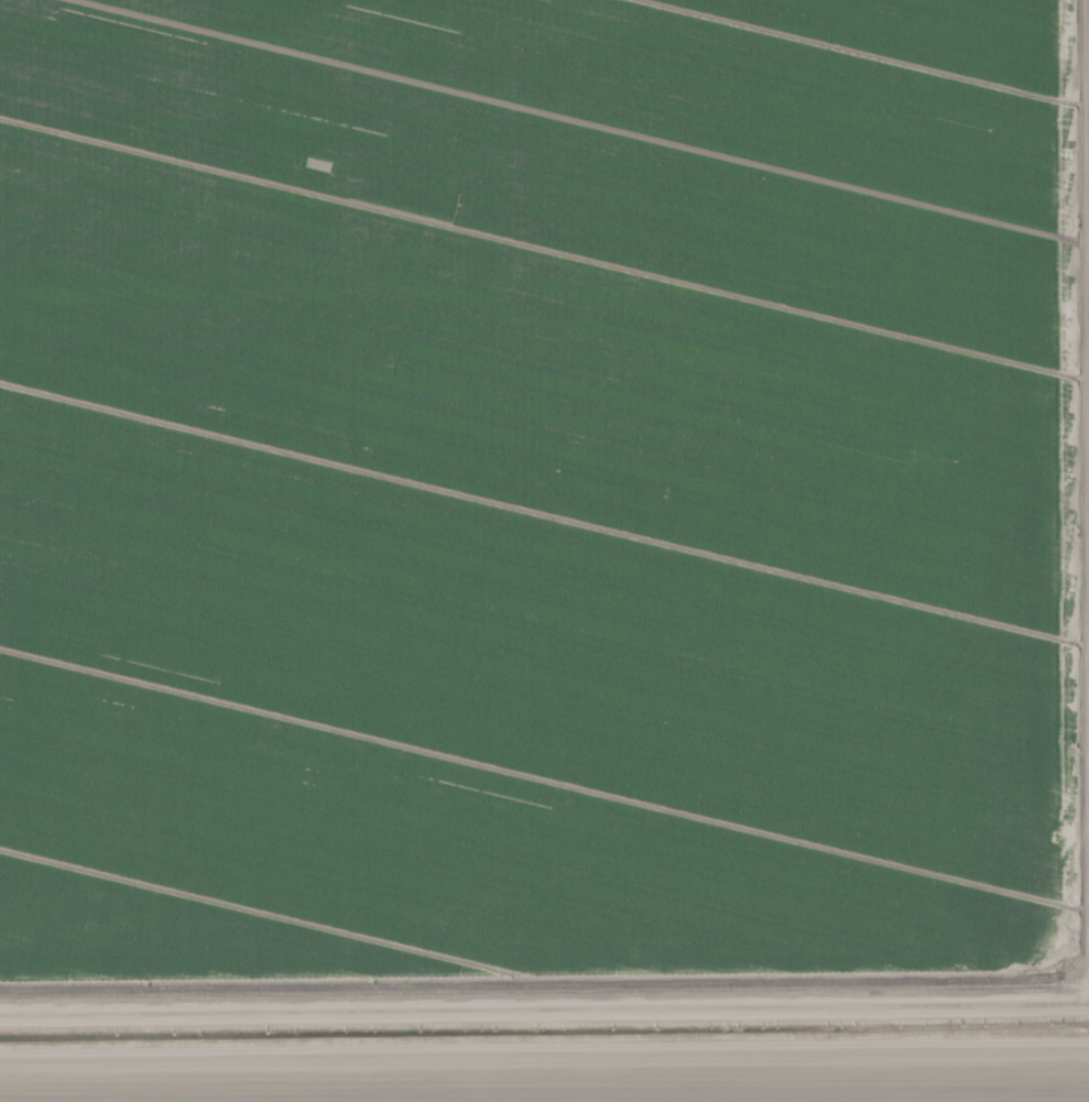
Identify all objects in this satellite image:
crop: (544, 550)

